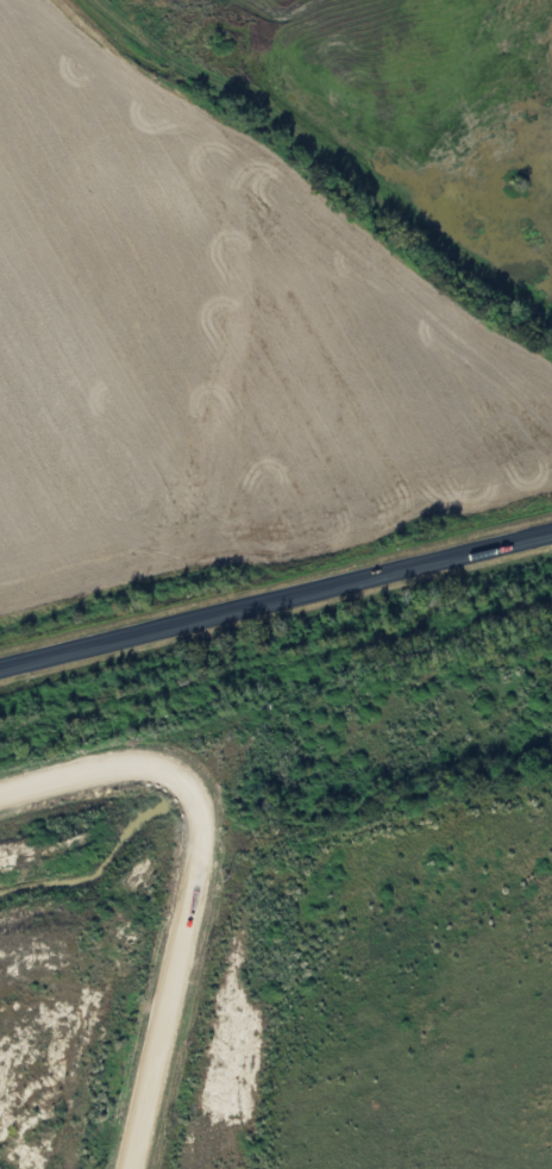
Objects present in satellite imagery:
road: (276, 600)
railway: (276, 664)
road: (197, 880)

